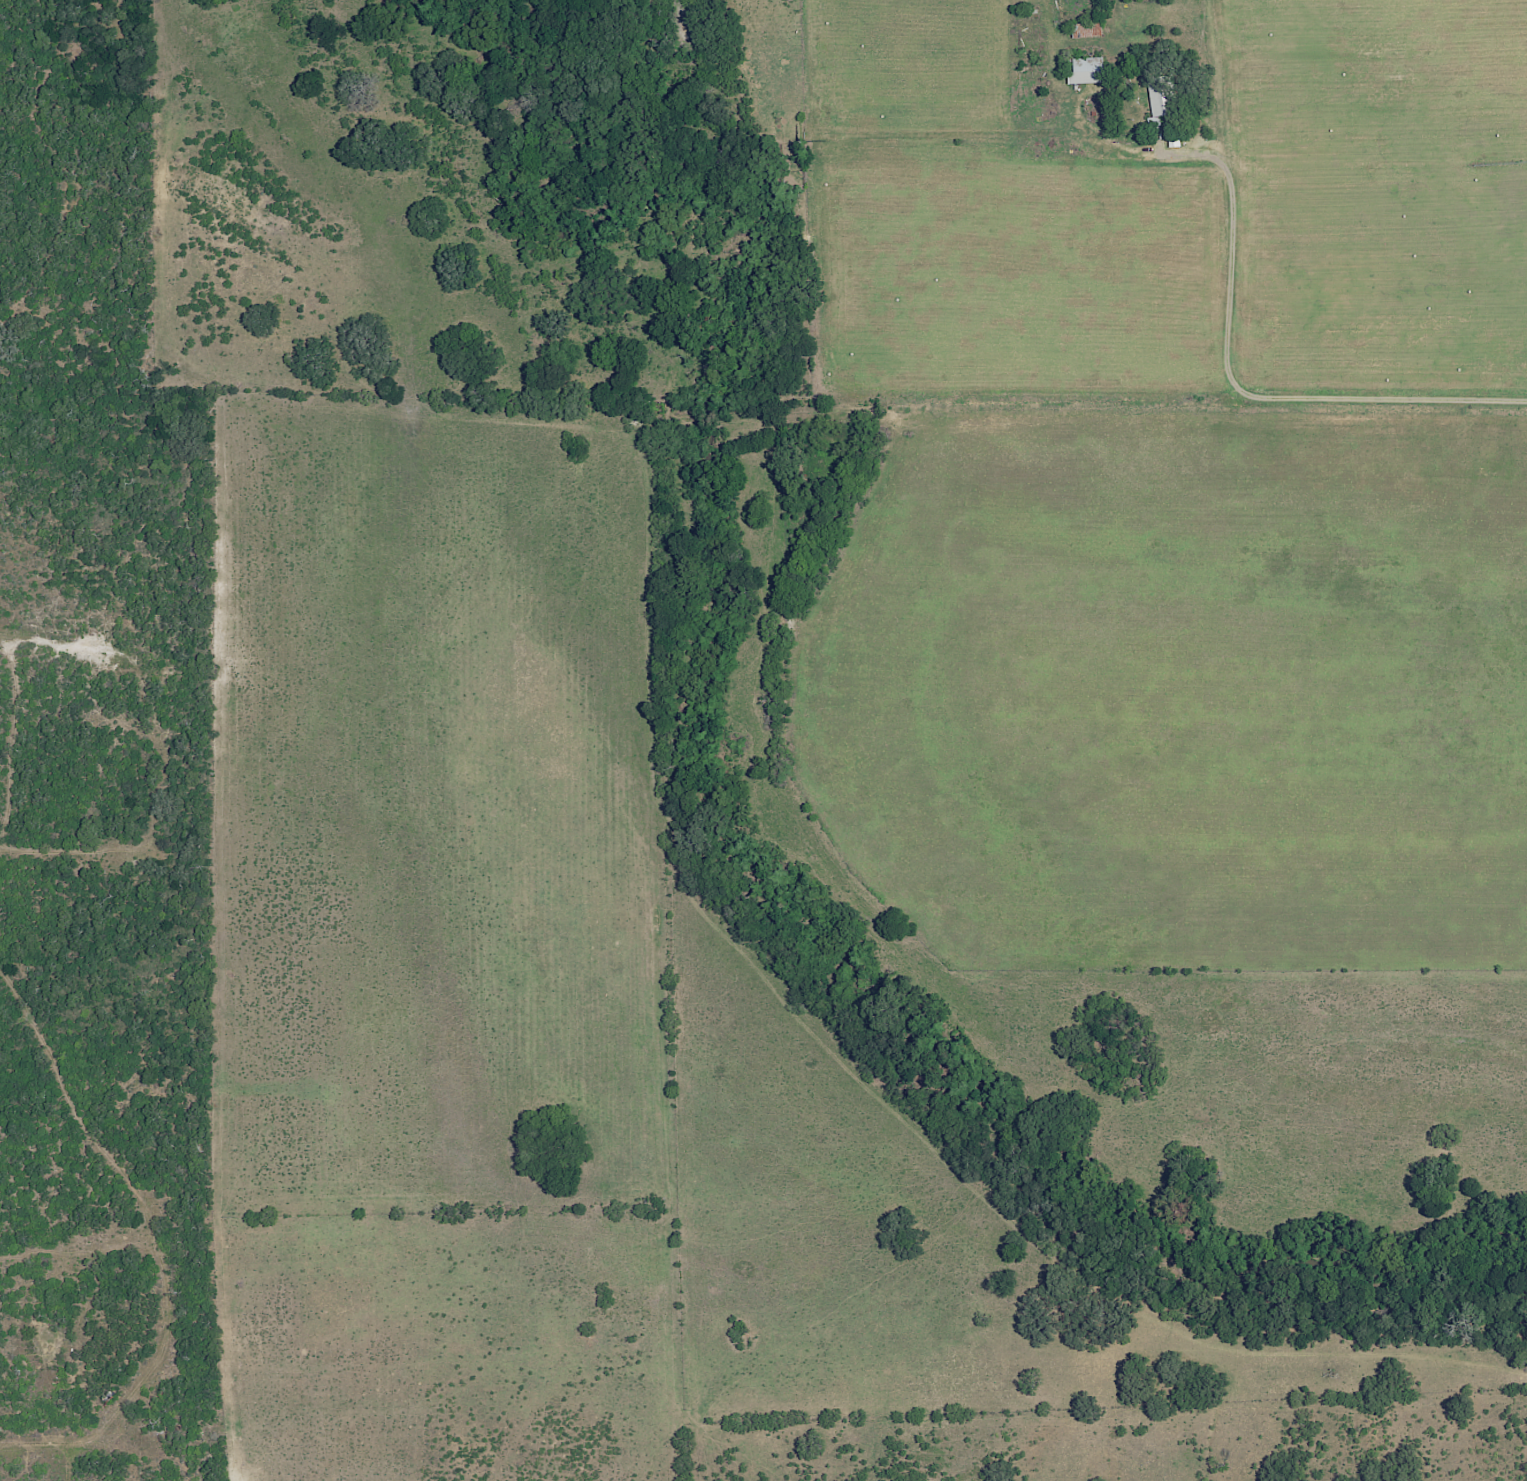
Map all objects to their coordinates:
building: (1086, 29)
building: (1085, 71)
building: (1160, 96)
road: (1232, 327)

